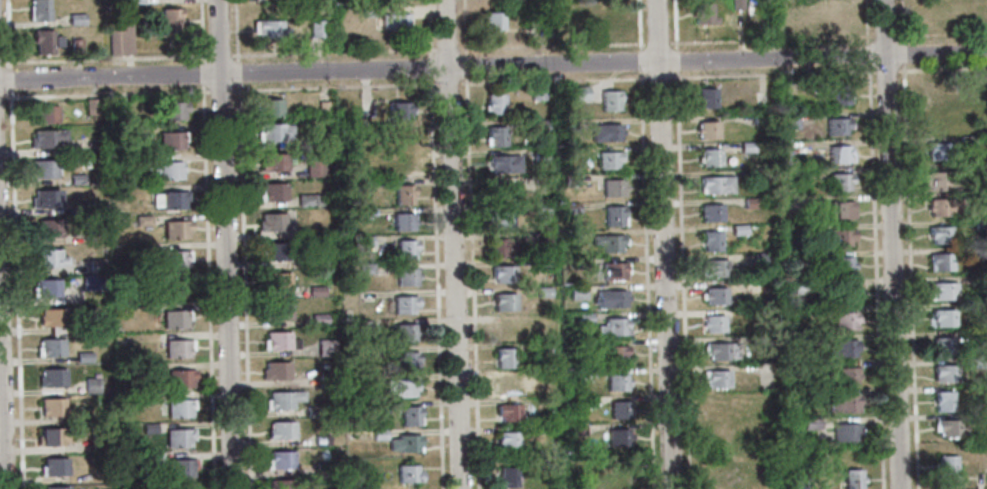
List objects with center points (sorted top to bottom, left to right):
building: (135, 2)
building: (737, 4)
building: (40, 10)
building: (368, 10)
building: (702, 13)
building: (77, 19)
building: (493, 21)
building: (170, 22)
building: (395, 22)
building: (610, 22)
road: (903, 22)
road: (867, 23)
road: (674, 24)
building: (535, 25)
road: (638, 25)
road: (463, 27)
road: (428, 28)
building: (269, 29)
building: (316, 29)
road: (236, 30)
road: (200, 31)
road: (7, 33)
road: (945, 34)
building: (45, 41)
building: (121, 41)
road: (703, 42)
road: (656, 43)
road: (551, 45)
building: (76, 46)
road: (740, 48)
road: (409, 50)
road: (446, 50)
road: (272, 53)
road: (868, 55)
road: (904, 55)
road: (218, 56)
road: (159, 57)
road: (104, 59)
road: (50, 60)
road: (316, 60)
road: (675, 60)
road: (640, 61)
road: (1, 62)
road: (464, 65)
road: (493, 66)
road: (430, 68)
road: (942, 69)
road: (886, 70)
road: (237, 72)
road: (201, 73)
road: (772, 75)
road: (9, 78)
road: (658, 78)
road: (552, 81)
road: (447, 84)
road: (334, 87)
road: (220, 90)
road: (161, 92)
building: (538, 92)
building: (934, 92)
building: (577, 93)
road: (107, 94)
building: (840, 94)
road: (51, 95)
road: (1, 97)
building: (707, 98)
building: (610, 101)
building: (495, 105)
building: (93, 107)
building: (322, 108)
building: (269, 109)
building: (173, 110)
building: (399, 111)
building: (46, 114)
building: (759, 120)
building: (790, 121)
building: (937, 123)
building: (568, 124)
building: (539, 126)
building: (837, 126)
building: (707, 130)
building: (123, 131)
building: (272, 133)
building: (606, 133)
building: (497, 137)
building: (45, 139)
building: (172, 140)
building: (966, 141)
building: (311, 142)
building: (747, 147)
building: (938, 151)
building: (839, 154)
building: (540, 155)
building: (710, 158)
building: (608, 160)
building: (274, 163)
building: (505, 164)
building: (404, 166)
building: (315, 168)
building: (44, 169)
building: (170, 171)
building: (761, 174)
building: (77, 180)
building: (571, 180)
building: (840, 181)
building: (937, 182)
building: (716, 185)
building: (613, 188)
building: (501, 192)
building: (273, 193)
building: (403, 195)
building: (47, 199)
building: (174, 199)
building: (305, 200)
building: (317, 200)
building: (751, 203)
building: (790, 203)
building: (945, 207)
building: (94, 208)
building: (572, 208)
building: (542, 209)
building: (113, 210)
building: (841, 210)
building: (711, 213)
building: (362, 214)
building: (614, 216)
building: (501, 220)
building: (143, 221)
building: (403, 222)
building: (273, 223)
building: (980, 225)
building: (49, 229)
building: (176, 229)
building: (792, 229)
building: (739, 230)
building: (96, 234)
building: (571, 235)
building: (940, 235)
building: (541, 237)
building: (841, 237)
building: (711, 241)
building: (364, 242)
road: (224, 244)
road: (452, 244)
building: (611, 244)
road: (663, 244)
road: (891, 244)
building: (502, 248)
building: (405, 250)
building: (978, 252)
building: (277, 253)
building: (49, 259)
building: (321, 259)
building: (175, 260)
building: (760, 260)
building: (799, 260)
building: (941, 262)
building: (582, 263)
building: (541, 265)
building: (842, 265)
building: (96, 267)
building: (365, 269)
building: (713, 269)
building: (613, 271)
building: (502, 274)
road: (909, 276)
building: (405, 277)
road: (875, 277)
road: (646, 280)
road: (681, 280)
building: (976, 280)
building: (278, 282)
road: (471, 282)
building: (93, 283)
road: (435, 284)
road: (243, 285)
road: (207, 286)
building: (801, 287)
building: (47, 288)
road: (16, 289)
building: (174, 289)
building: (316, 291)
building: (942, 291)
building: (543, 292)
building: (577, 293)
building: (845, 293)
building: (715, 296)
building: (610, 299)
building: (504, 302)
building: (404, 305)
building: (279, 312)
building: (817, 312)
building: (53, 318)
building: (175, 318)
building: (319, 319)
building: (585, 319)
building: (942, 319)
building: (845, 321)
building: (371, 324)
building: (713, 324)
building: (95, 326)
building: (614, 327)
building: (505, 329)
building: (763, 329)
building: (406, 333)
building: (985, 336)
building: (809, 339)
building: (125, 341)
building: (762, 341)
building: (278, 342)
building: (943, 346)
building: (178, 348)
building: (842, 348)
building: (52, 349)
building: (327, 349)
building: (540, 350)
building: (721, 351)
building: (372, 353)
building: (615, 354)
building: (83, 357)
building: (504, 358)
building: (406, 361)
building: (977, 363)
building: (278, 373)
building: (579, 373)
building: (944, 374)
building: (846, 375)
building: (53, 378)
building: (180, 378)
building: (716, 379)
building: (327, 380)
building: (617, 382)
building: (91, 385)
building: (507, 385)
building: (401, 389)
building: (796, 395)
building: (588, 401)
building: (943, 401)
building: (282, 402)
building: (840, 404)
building: (720, 406)
building: (53, 408)
building: (180, 408)
building: (620, 410)
building: (315, 412)
building: (508, 413)
building: (410, 417)
road: (2, 421)
building: (813, 424)
building: (148, 428)
building: (949, 429)
building: (577, 430)
building: (282, 431)
building: (720, 432)
building: (844, 432)
building: (379, 435)
building: (55, 436)
building: (179, 438)
building: (618, 438)
building: (322, 440)
building: (509, 441)
building: (406, 444)
building: (98, 445)
building: (140, 458)
building: (282, 461)
building: (54, 466)
building: (947, 466)
building: (181, 469)
building: (325, 471)
building: (360, 474)
building: (409, 474)
building: (507, 477)
building: (852, 479)
building: (720, 480)
building: (986, 480)
building: (624, 482)
building: (798, 483)
building: (282, 484)
building: (183, 486)
building: (56, 488)
building: (130, 488)

